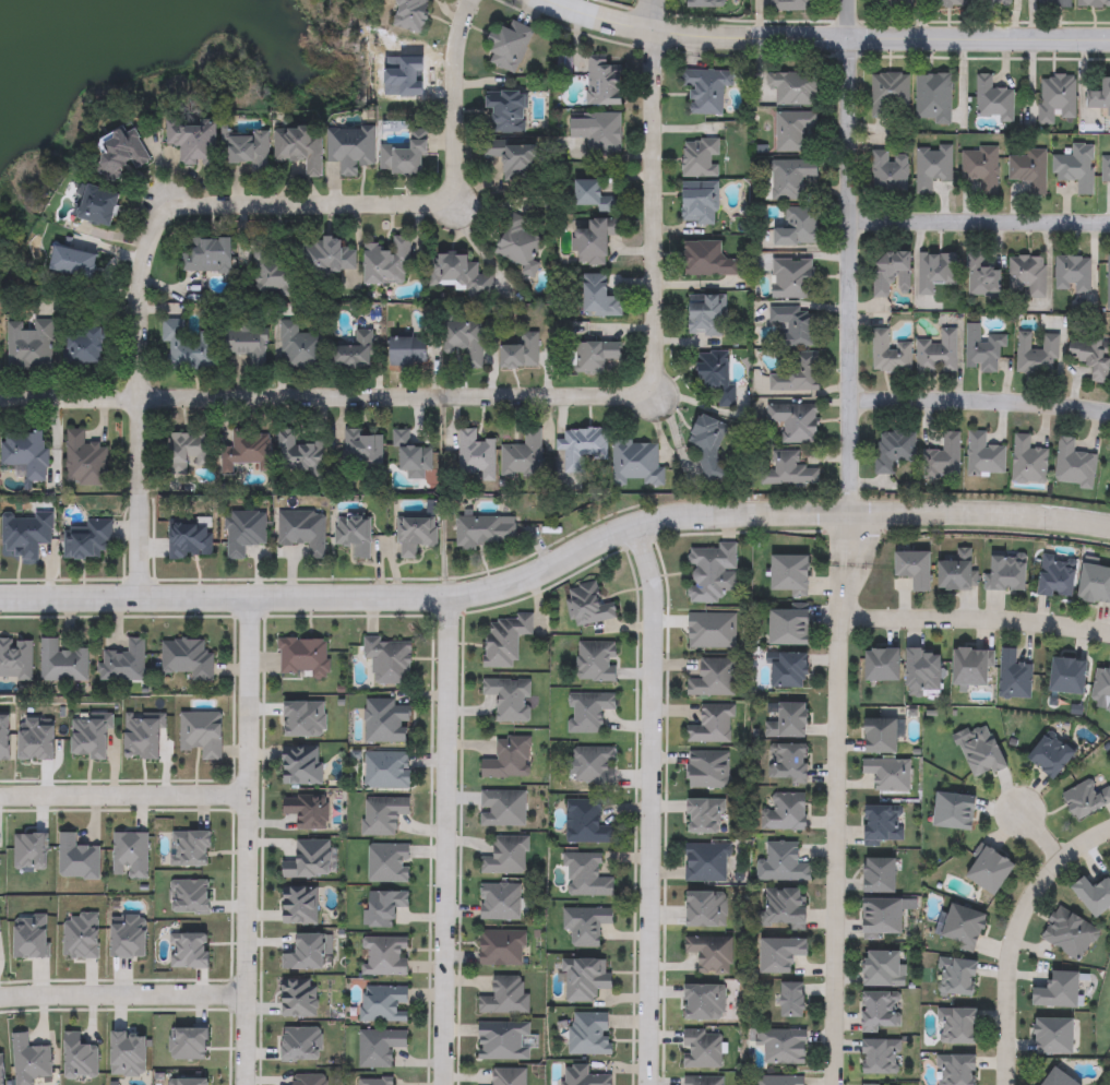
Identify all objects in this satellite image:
building: (940, 2)
building: (705, 3)
building: (892, 3)
building: (992, 3)
building: (1054, 3)
building: (1094, 3)
building: (795, 5)
building: (413, 14)
road: (827, 36)
building: (510, 47)
building: (605, 83)
building: (793, 88)
building: (706, 92)
building: (890, 95)
building: (1100, 96)
building: (933, 97)
building: (1057, 97)
building: (993, 99)
building: (508, 110)
building: (793, 130)
building: (598, 132)
building: (193, 141)
building: (351, 148)
building: (247, 150)
building: (300, 150)
building: (123, 153)
building: (406, 157)
building: (515, 158)
building: (701, 158)
building: (932, 167)
building: (980, 168)
building: (1077, 168)
building: (1106, 169)
building: (1029, 170)
building: (890, 172)
building: (793, 181)
road: (654, 193)
building: (594, 195)
building: (700, 203)
building: (99, 206)
road: (212, 208)
road: (979, 223)
building: (798, 228)
building: (595, 241)
building: (518, 246)
building: (207, 255)
road: (850, 257)
building: (327, 258)
building: (708, 260)
building: (389, 263)
building: (274, 265)
building: (936, 272)
building: (893, 274)
building: (1073, 274)
building: (459, 275)
building: (982, 276)
building: (1028, 277)
building: (795, 278)
building: (1108, 284)
building: (600, 297)
building: (707, 315)
building: (795, 327)
building: (465, 342)
building: (31, 346)
building: (189, 347)
building: (247, 347)
building: (300, 348)
building: (86, 349)
building: (982, 350)
building: (354, 353)
building: (409, 353)
building: (521, 353)
building: (938, 353)
building: (890, 354)
building: (1037, 355)
building: (1091, 355)
building: (595, 356)
building: (797, 374)
building: (716, 377)
road: (327, 396)
road: (980, 400)
building: (795, 424)
building: (582, 448)
building: (894, 451)
building: (189, 452)
building: (361, 452)
building: (26, 453)
building: (273, 454)
building: (984, 455)
building: (411, 456)
building: (476, 457)
building: (524, 457)
building: (944, 457)
building: (85, 461)
building: (1028, 462)
building: (637, 464)
building: (1074, 465)
building: (789, 470)
road: (980, 512)
building: (302, 529)
building: (485, 530)
building: (244, 532)
building: (26, 533)
building: (354, 535)
building: (415, 535)
building: (86, 539)
building: (190, 539)
building: (915, 570)
building: (1006, 572)
building: (711, 573)
building: (958, 573)
building: (791, 575)
building: (1058, 579)
building: (1095, 585)
road: (433, 601)
building: (588, 606)
road: (975, 617)
building: (790, 629)
building: (505, 641)
building: (303, 658)
building: (188, 659)
building: (15, 660)
building: (389, 661)
building: (596, 663)
building: (62, 664)
building: (123, 664)
building: (883, 666)
building: (974, 668)
building: (790, 671)
building: (923, 671)
building: (1014, 677)
building: (1070, 677)
building: (714, 679)
building: (1102, 687)
building: (510, 699)
building: (588, 712)
building: (386, 722)
building: (789, 723)
building: (713, 726)
building: (201, 735)
building: (881, 738)
building: (983, 754)
building: (1051, 758)
building: (509, 760)
building: (789, 764)
building: (302, 766)
building: (594, 766)
building: (386, 771)
building: (709, 771)
building: (887, 774)
road: (123, 796)
road: (836, 799)
building: (1086, 799)
road: (651, 803)
building: (503, 810)
building: (308, 811)
building: (955, 812)
building: (785, 813)
building: (383, 816)
building: (585, 823)
building: (884, 827)
road: (1038, 837)
road: (443, 843)
road: (246, 844)
building: (506, 857)
building: (76, 859)
building: (313, 859)
building: (389, 863)
building: (707, 863)
building: (785, 865)
building: (990, 871)
building: (585, 877)
building: (881, 878)
building: (1095, 896)
building: (500, 902)
building: (300, 906)
building: (386, 908)
building: (785, 910)
building: (883, 919)
building: (585, 926)
building: (965, 928)
road: (1013, 935)
building: (1070, 935)
building: (502, 949)
building: (712, 954)
building: (781, 956)
building: (385, 957)
building: (885, 970)
building: (957, 979)
building: (585, 980)
building: (1059, 992)
road: (122, 998)
building: (506, 998)
building: (299, 999)
building: (795, 1001)
building: (384, 1004)
building: (880, 1013)
building: (958, 1028)
building: (589, 1035)
building: (1054, 1038)
building: (505, 1041)
building: (380, 1047)
building: (783, 1047)
building: (702, 1050)
building: (881, 1058)
building: (957, 1071)
building: (509, 1076)
building: (583, 1076)
building: (1059, 1080)
building: (378, 1081)
building: (703, 1081)
building: (780, 1081)

